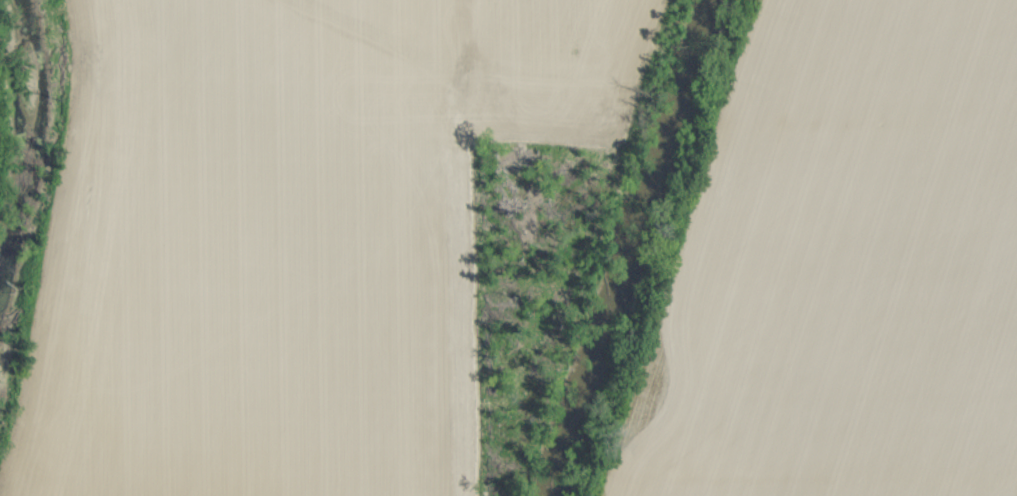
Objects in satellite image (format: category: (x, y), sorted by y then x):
river: (6, 98)

